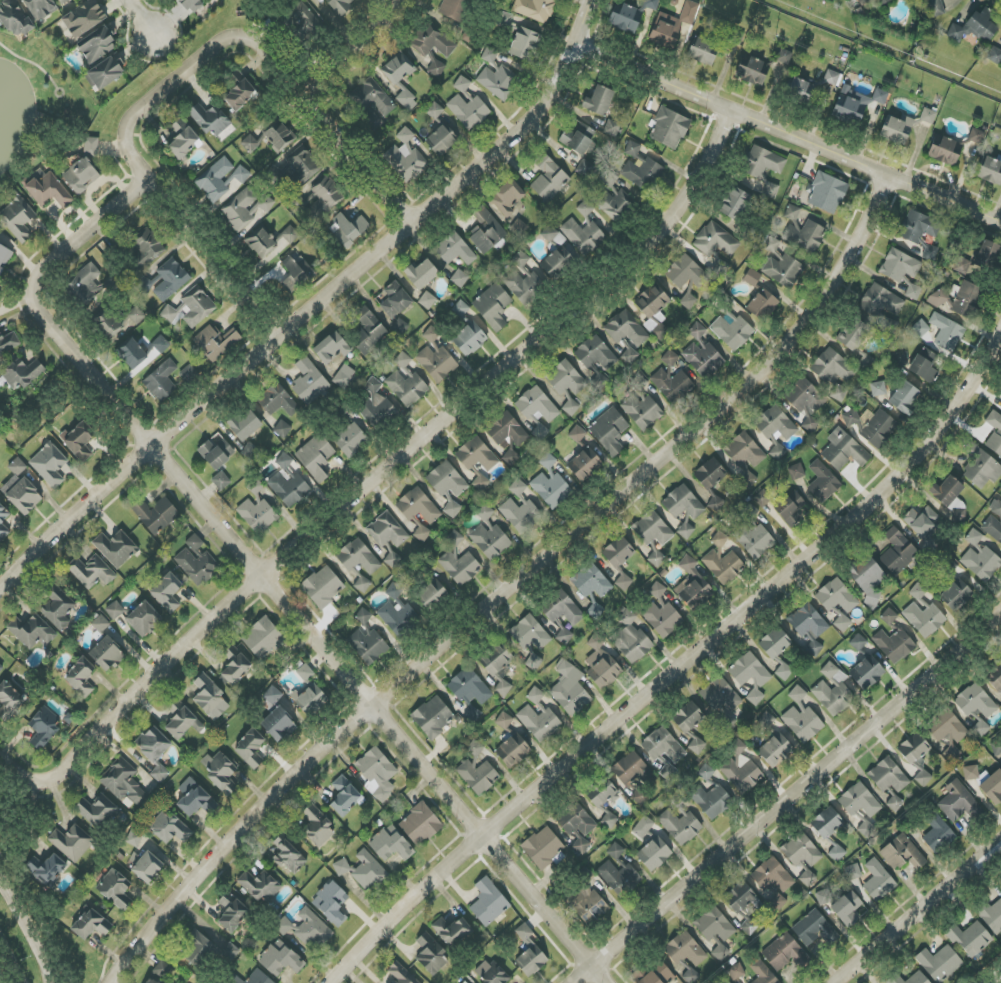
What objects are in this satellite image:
building: (62, 1)
building: (879, 3)
building: (191, 4)
building: (651, 4)
building: (340, 5)
building: (40, 8)
building: (935, 8)
building: (453, 9)
building: (535, 9)
road: (140, 17)
building: (625, 17)
building: (15, 18)
building: (83, 18)
building: (297, 19)
building: (506, 19)
building: (673, 25)
building: (976, 27)
building: (432, 42)
building: (96, 43)
building: (525, 44)
road: (355, 50)
building: (703, 51)
building: (994, 55)
building: (784, 56)
road: (32, 62)
road: (277, 68)
building: (436, 68)
building: (752, 70)
building: (104, 73)
building: (832, 77)
building: (401, 78)
building: (497, 83)
building: (462, 84)
building: (801, 90)
road: (55, 91)
building: (239, 92)
building: (599, 101)
building: (371, 102)
building: (856, 104)
building: (468, 110)
building: (434, 111)
building: (928, 116)
building: (210, 119)
building: (611, 128)
building: (669, 128)
building: (897, 129)
road: (788, 134)
building: (976, 135)
building: (279, 136)
building: (578, 138)
building: (183, 139)
building: (441, 141)
building: (250, 144)
building: (91, 146)
building: (945, 150)
building: (406, 157)
building: (762, 162)
building: (300, 164)
building: (640, 168)
building: (585, 169)
building: (990, 170)
building: (81, 176)
building: (549, 179)
building: (215, 180)
building: (47, 189)
building: (771, 190)
building: (827, 193)
building: (611, 197)
building: (507, 198)
building: (323, 200)
building: (733, 203)
building: (239, 211)
building: (792, 213)
building: (18, 219)
building: (519, 227)
building: (349, 229)
building: (583, 230)
building: (486, 231)
building: (920, 232)
building: (804, 236)
road: (199, 238)
building: (715, 241)
building: (269, 242)
building: (771, 244)
building: (145, 249)
building: (454, 249)
building: (988, 253)
building: (557, 255)
building: (520, 259)
building: (780, 270)
building: (684, 272)
building: (903, 272)
building: (421, 274)
building: (459, 278)
building: (171, 280)
building: (754, 281)
building: (85, 284)
building: (145, 284)
building: (523, 284)
building: (0, 292)
building: (395, 300)
building: (427, 300)
building: (960, 300)
building: (688, 301)
building: (880, 301)
building: (196, 304)
building: (652, 304)
building: (493, 306)
building: (762, 306)
road: (314, 307)
building: (461, 309)
building: (169, 314)
building: (136, 316)
building: (107, 324)
building: (400, 327)
building: (920, 328)
building: (626, 329)
building: (697, 330)
building: (732, 330)
building: (368, 331)
building: (947, 332)
building: (431, 334)
building: (854, 335)
building: (471, 338)
building: (9, 342)
building: (215, 342)
building: (331, 348)
building: (132, 353)
building: (595, 354)
building: (630, 356)
building: (670, 358)
building: (704, 359)
building: (899, 359)
building: (436, 362)
building: (924, 365)
building: (834, 373)
building: (23, 374)
building: (345, 377)
building: (565, 378)
building: (162, 380)
building: (309, 381)
building: (406, 382)
building: (671, 384)
building: (878, 388)
building: (904, 397)
building: (277, 400)
building: (806, 402)
building: (375, 404)
building: (641, 406)
building: (570, 407)
building: (537, 410)
building: (851, 417)
building: (245, 424)
building: (876, 426)
building: (282, 429)
building: (776, 429)
building: (609, 431)
building: (994, 432)
building: (577, 434)
building: (508, 437)
building: (350, 438)
building: (79, 440)
building: (843, 450)
building: (217, 453)
building: (476, 455)
building: (316, 457)
building: (744, 457)
building: (49, 464)
building: (584, 465)
building: (17, 466)
building: (981, 467)
building: (796, 472)
road: (380, 473)
building: (710, 474)
building: (221, 481)
building: (480, 481)
building: (823, 482)
building: (288, 483)
building: (448, 485)
building: (256, 489)
building: (551, 489)
building: (946, 491)
building: (22, 494)
building: (762, 499)
building: (682, 503)
building: (418, 506)
building: (996, 507)
building: (791, 509)
building: (521, 510)
building: (485, 512)
building: (156, 515)
building: (258, 515)
building: (2, 519)
building: (922, 521)
building: (993, 528)
building: (652, 529)
building: (686, 530)
building: (387, 531)
building: (422, 533)
building: (753, 534)
building: (454, 539)
building: (719, 539)
building: (490, 541)
building: (195, 544)
building: (116, 548)
building: (618, 552)
building: (898, 552)
building: (358, 557)
building: (656, 558)
building: (980, 558)
building: (197, 566)
building: (724, 566)
building: (460, 567)
building: (91, 572)
road: (258, 575)
building: (867, 578)
building: (591, 581)
building: (624, 582)
building: (362, 584)
road: (507, 586)
building: (692, 586)
building: (323, 587)
building: (657, 590)
building: (917, 591)
building: (167, 592)
building: (433, 594)
building: (836, 596)
building: (957, 597)
building: (58, 608)
building: (561, 608)
building: (115, 610)
building: (397, 610)
building: (889, 616)
building: (662, 618)
building: (143, 619)
building: (363, 619)
building: (924, 619)
building: (100, 623)
building: (842, 623)
building: (810, 626)
building: (32, 631)
building: (529, 633)
building: (565, 636)
building: (263, 639)
building: (631, 639)
building: (858, 642)
building: (894, 645)
building: (368, 646)
building: (777, 650)
road: (679, 658)
building: (533, 661)
building: (602, 663)
building: (235, 665)
building: (499, 667)
building: (1, 670)
building: (306, 673)
building: (869, 674)
building: (750, 675)
building: (81, 677)
building: (995, 678)
building: (471, 688)
building: (570, 689)
building: (833, 691)
building: (272, 695)
building: (535, 695)
building: (210, 697)
building: (721, 698)
building: (312, 700)
building: (9, 701)
building: (977, 707)
building: (433, 717)
building: (688, 717)
building: (802, 718)
building: (182, 720)
building: (504, 720)
building: (538, 723)
building: (279, 724)
building: (44, 726)
building: (947, 727)
building: (773, 744)
building: (663, 746)
building: (696, 746)
building: (997, 747)
building: (250, 748)
building: (914, 748)
building: (474, 749)
building: (155, 751)
building: (512, 752)
building: (952, 753)
building: (630, 769)
building: (740, 769)
building: (668, 771)
building: (706, 772)
building: (971, 772)
building: (221, 773)
building: (377, 773)
building: (478, 776)
building: (922, 776)
building: (890, 781)
building: (124, 783)
building: (993, 787)
road: (785, 795)
building: (190, 797)
building: (345, 797)
building: (712, 801)
building: (859, 801)
building: (958, 803)
building: (606, 804)
building: (210, 805)
building: (97, 811)
building: (827, 823)
building: (420, 824)
building: (317, 826)
building: (576, 826)
building: (680, 826)
building: (170, 828)
building: (646, 831)
building: (938, 834)
building: (134, 838)
building: (71, 842)
building: (391, 844)
building: (543, 847)
building: (801, 850)
building: (616, 851)
building: (837, 853)
building: (902, 853)
building: (288, 855)
building: (655, 855)
building: (147, 867)
building: (47, 869)
building: (362, 870)
building: (852, 872)
building: (772, 875)
building: (620, 876)
building: (808, 878)
building: (878, 880)
building: (261, 886)
building: (116, 890)
building: (823, 897)
building: (777, 902)
building: (331, 903)
building: (488, 903)
building: (587, 904)
building: (744, 905)
building: (846, 905)
road: (920, 911)
building: (232, 912)
building: (992, 916)
building: (849, 920)
road: (33, 923)
building: (91, 924)
building: (714, 925)
building: (306, 929)
building: (814, 929)
building: (452, 931)
building: (525, 935)
building: (970, 939)
building: (197, 946)
building: (685, 950)
building: (230, 952)
building: (720, 952)
building: (785, 953)
building: (431, 954)
road: (13, 958)
building: (280, 960)
building: (532, 960)
building: (939, 963)
building: (736, 971)
building: (491, 973)
building: (763, 973)
building: (401, 974)
building: (653, 975)
building: (918, 977)
building: (259, 978)
building: (234, 979)
road: (998, 980)
building: (151, 981)
building: (465, 982)

